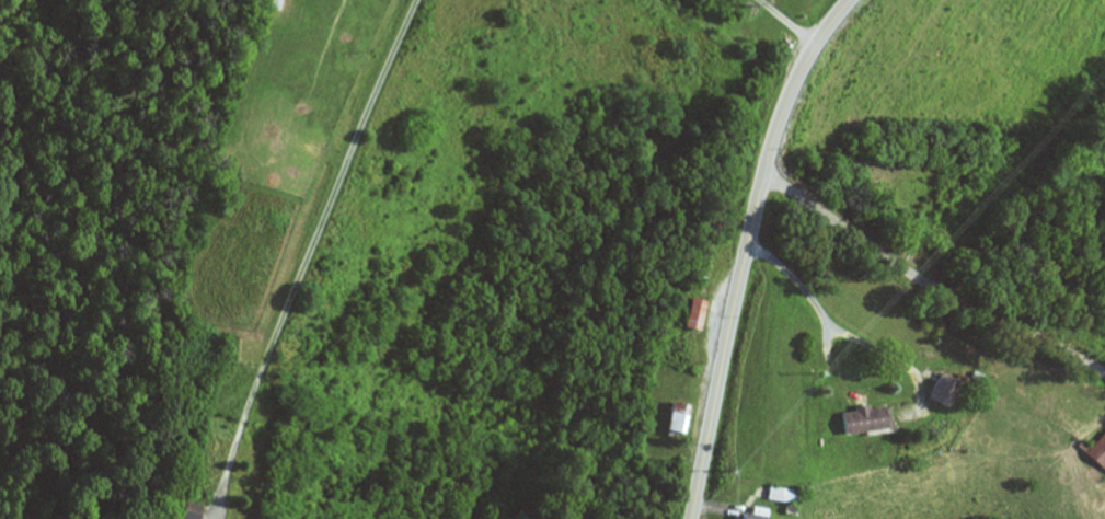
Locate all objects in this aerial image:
railway: (1085, 138)
building: (716, 215)
road: (745, 249)
road: (771, 249)
road: (926, 286)
building: (699, 313)
building: (682, 417)
building: (867, 419)
building: (1095, 449)
building: (787, 495)
building: (191, 511)
building: (758, 516)

